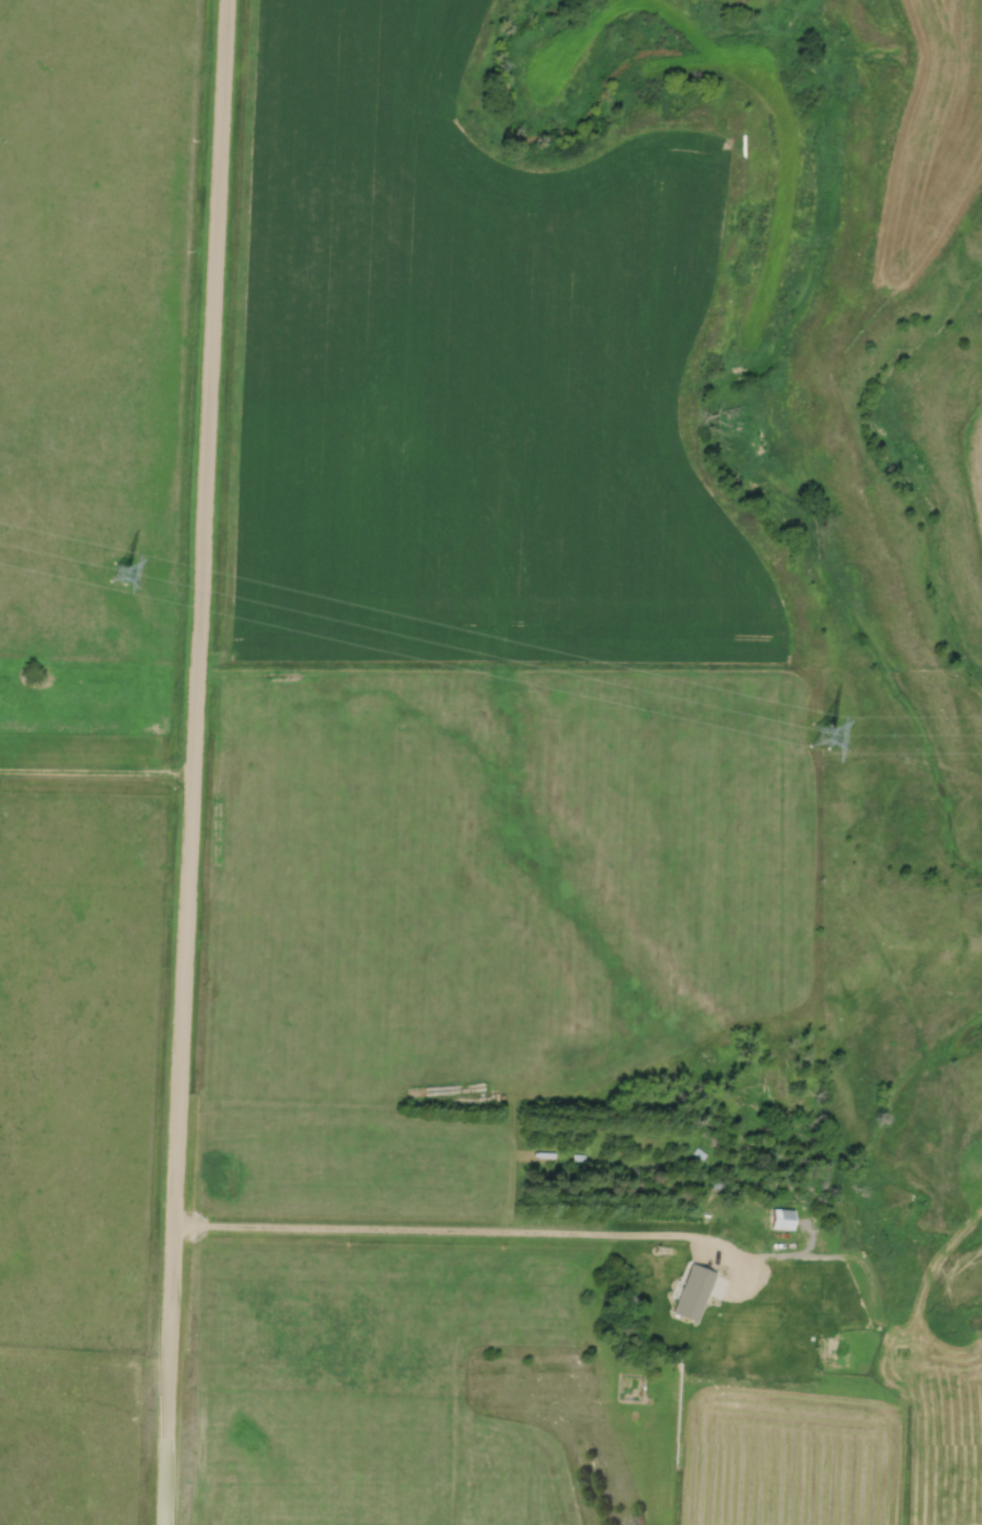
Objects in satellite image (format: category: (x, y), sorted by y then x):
building: (514, 170)
power tower: (121, 572)
power tower: (821, 737)
road: (194, 762)
road: (97, 770)
building: (785, 1221)
road: (446, 1235)
building: (829, 1320)

